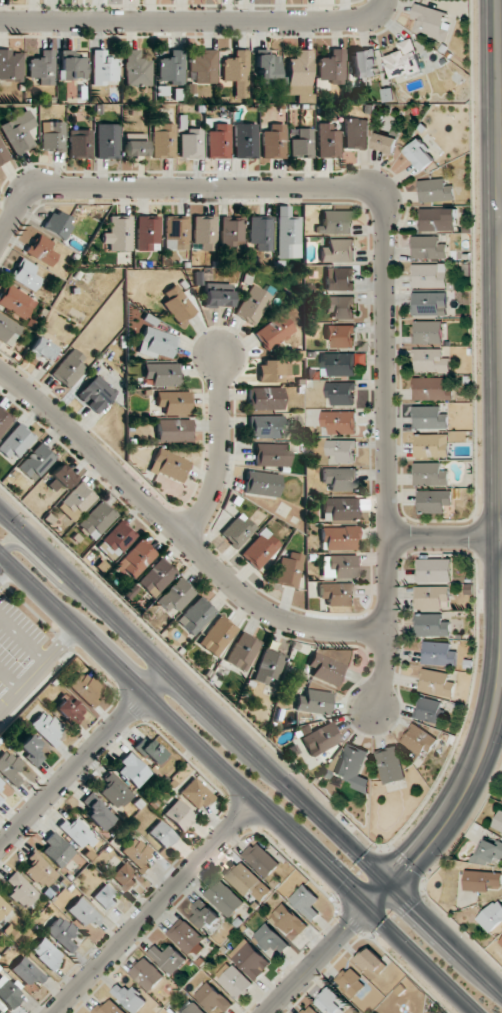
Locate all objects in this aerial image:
road: (382, 7)
road: (189, 17)
building: (430, 22)
building: (404, 60)
building: (363, 64)
building: (10, 65)
building: (72, 65)
building: (203, 66)
building: (42, 67)
building: (332, 67)
building: (103, 68)
building: (171, 68)
building: (267, 68)
building: (136, 69)
building: (237, 72)
building: (300, 76)
building: (18, 132)
building: (356, 134)
building: (52, 136)
building: (163, 140)
building: (107, 141)
building: (245, 141)
building: (327, 141)
building: (385, 141)
building: (218, 142)
building: (274, 142)
building: (80, 143)
building: (301, 143)
building: (191, 144)
building: (134, 145)
building: (2, 154)
building: (420, 155)
road: (498, 189)
building: (434, 190)
road: (387, 210)
road: (500, 218)
building: (437, 219)
building: (333, 222)
building: (57, 224)
building: (231, 231)
building: (204, 232)
building: (260, 232)
building: (118, 233)
building: (147, 233)
building: (175, 234)
building: (288, 234)
building: (427, 247)
building: (41, 250)
building: (337, 251)
building: (25, 274)
building: (429, 275)
building: (339, 279)
building: (217, 294)
building: (16, 302)
building: (429, 303)
building: (177, 304)
building: (252, 305)
building: (339, 306)
building: (8, 330)
building: (274, 332)
building: (428, 332)
building: (341, 335)
building: (156, 343)
building: (41, 349)
building: (431, 361)
building: (337, 364)
building: (69, 368)
building: (273, 370)
building: (162, 374)
building: (432, 388)
building: (340, 393)
building: (96, 394)
building: (265, 398)
building: (173, 402)
building: (429, 417)
building: (4, 419)
building: (339, 422)
building: (266, 426)
building: (173, 430)
building: (15, 443)
building: (431, 445)
building: (341, 449)
building: (271, 454)
road: (222, 455)
building: (36, 462)
building: (168, 465)
building: (430, 474)
building: (59, 478)
building: (339, 479)
building: (261, 483)
building: (76, 501)
building: (434, 501)
building: (339, 509)
building: (96, 520)
building: (237, 530)
road: (180, 536)
building: (117, 537)
building: (339, 538)
road: (447, 539)
building: (260, 549)
building: (134, 559)
building: (338, 566)
building: (289, 570)
building: (434, 570)
road: (5, 571)
road: (51, 577)
building: (156, 577)
building: (337, 593)
building: (432, 597)
building: (195, 616)
building: (432, 625)
building: (217, 636)
road: (22, 639)
building: (242, 651)
building: (439, 654)
building: (269, 666)
road: (38, 667)
building: (325, 669)
road: (386, 671)
road: (9, 680)
building: (436, 683)
building: (83, 688)
building: (314, 702)
building: (68, 709)
building: (428, 710)
building: (45, 728)
road: (185, 731)
building: (320, 739)
building: (418, 740)
building: (29, 749)
building: (150, 751)
road: (251, 753)
road: (83, 758)
building: (390, 765)
building: (9, 767)
building: (353, 767)
building: (132, 770)
building: (0, 783)
building: (113, 791)
building: (195, 794)
road: (461, 795)
building: (0, 799)
building: (96, 812)
building: (178, 815)
building: (498, 821)
building: (75, 831)
building: (161, 834)
building: (56, 850)
building: (488, 852)
building: (137, 854)
building: (261, 859)
traffic signals: (410, 860)
building: (39, 871)
building: (124, 876)
building: (241, 878)
building: (482, 880)
traffic signals: (338, 882)
building: (22, 891)
building: (262, 892)
building: (105, 898)
building: (224, 898)
building: (306, 902)
building: (3, 908)
road: (154, 908)
traffic signals: (413, 909)
building: (83, 912)
building: (203, 915)
building: (492, 916)
building: (287, 920)
traffic signals: (348, 931)
building: (61, 933)
building: (185, 936)
building: (271, 939)
building: (501, 941)
building: (46, 953)
building: (167, 958)
building: (250, 959)
building: (370, 959)
road: (318, 961)
road: (421, 961)
building: (27, 972)
building: (147, 974)
building: (235, 981)
building: (351, 982)
building: (9, 993)
building: (130, 997)
building: (213, 998)
building: (330, 1001)
building: (109, 1007)
building: (193, 1009)
building: (309, 1010)
building: (0, 1012)

